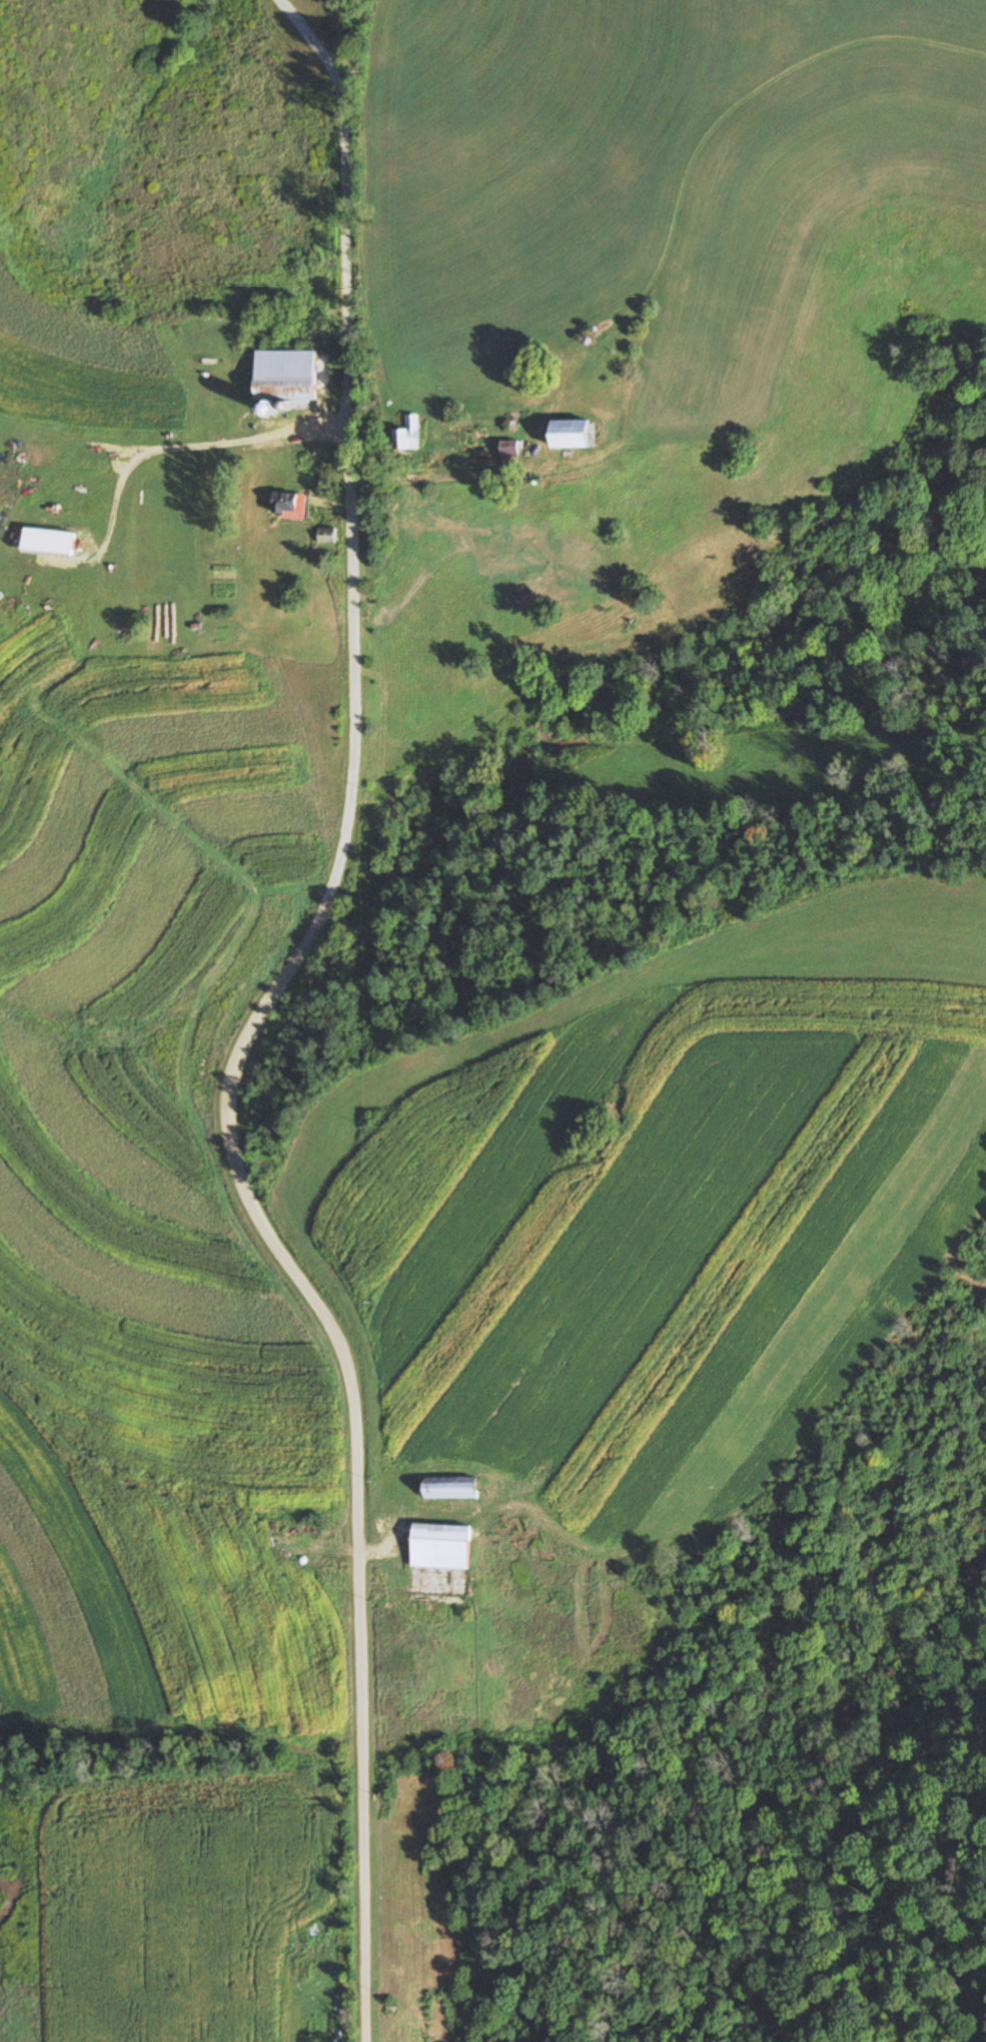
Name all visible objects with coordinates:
building: (286, 379)
building: (571, 433)
building: (409, 434)
building: (511, 448)
road: (458, 477)
building: (290, 504)
building: (327, 534)
road: (257, 1028)
building: (452, 1488)
building: (442, 1547)
building: (337, 1975)
building: (281, 1987)
building: (281, 2038)

